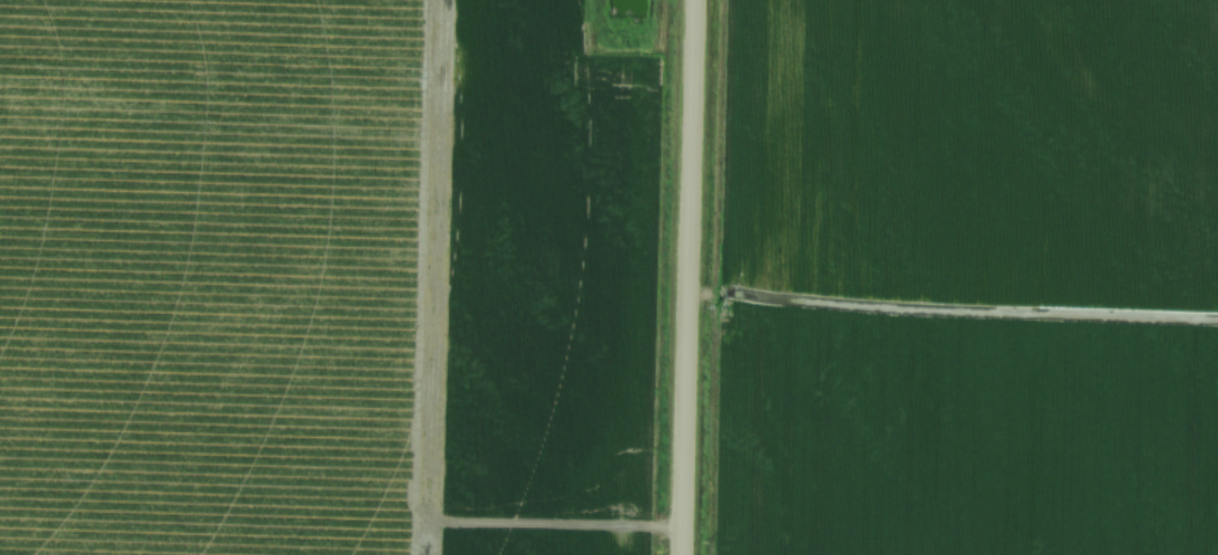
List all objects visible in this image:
road: (677, 277)

